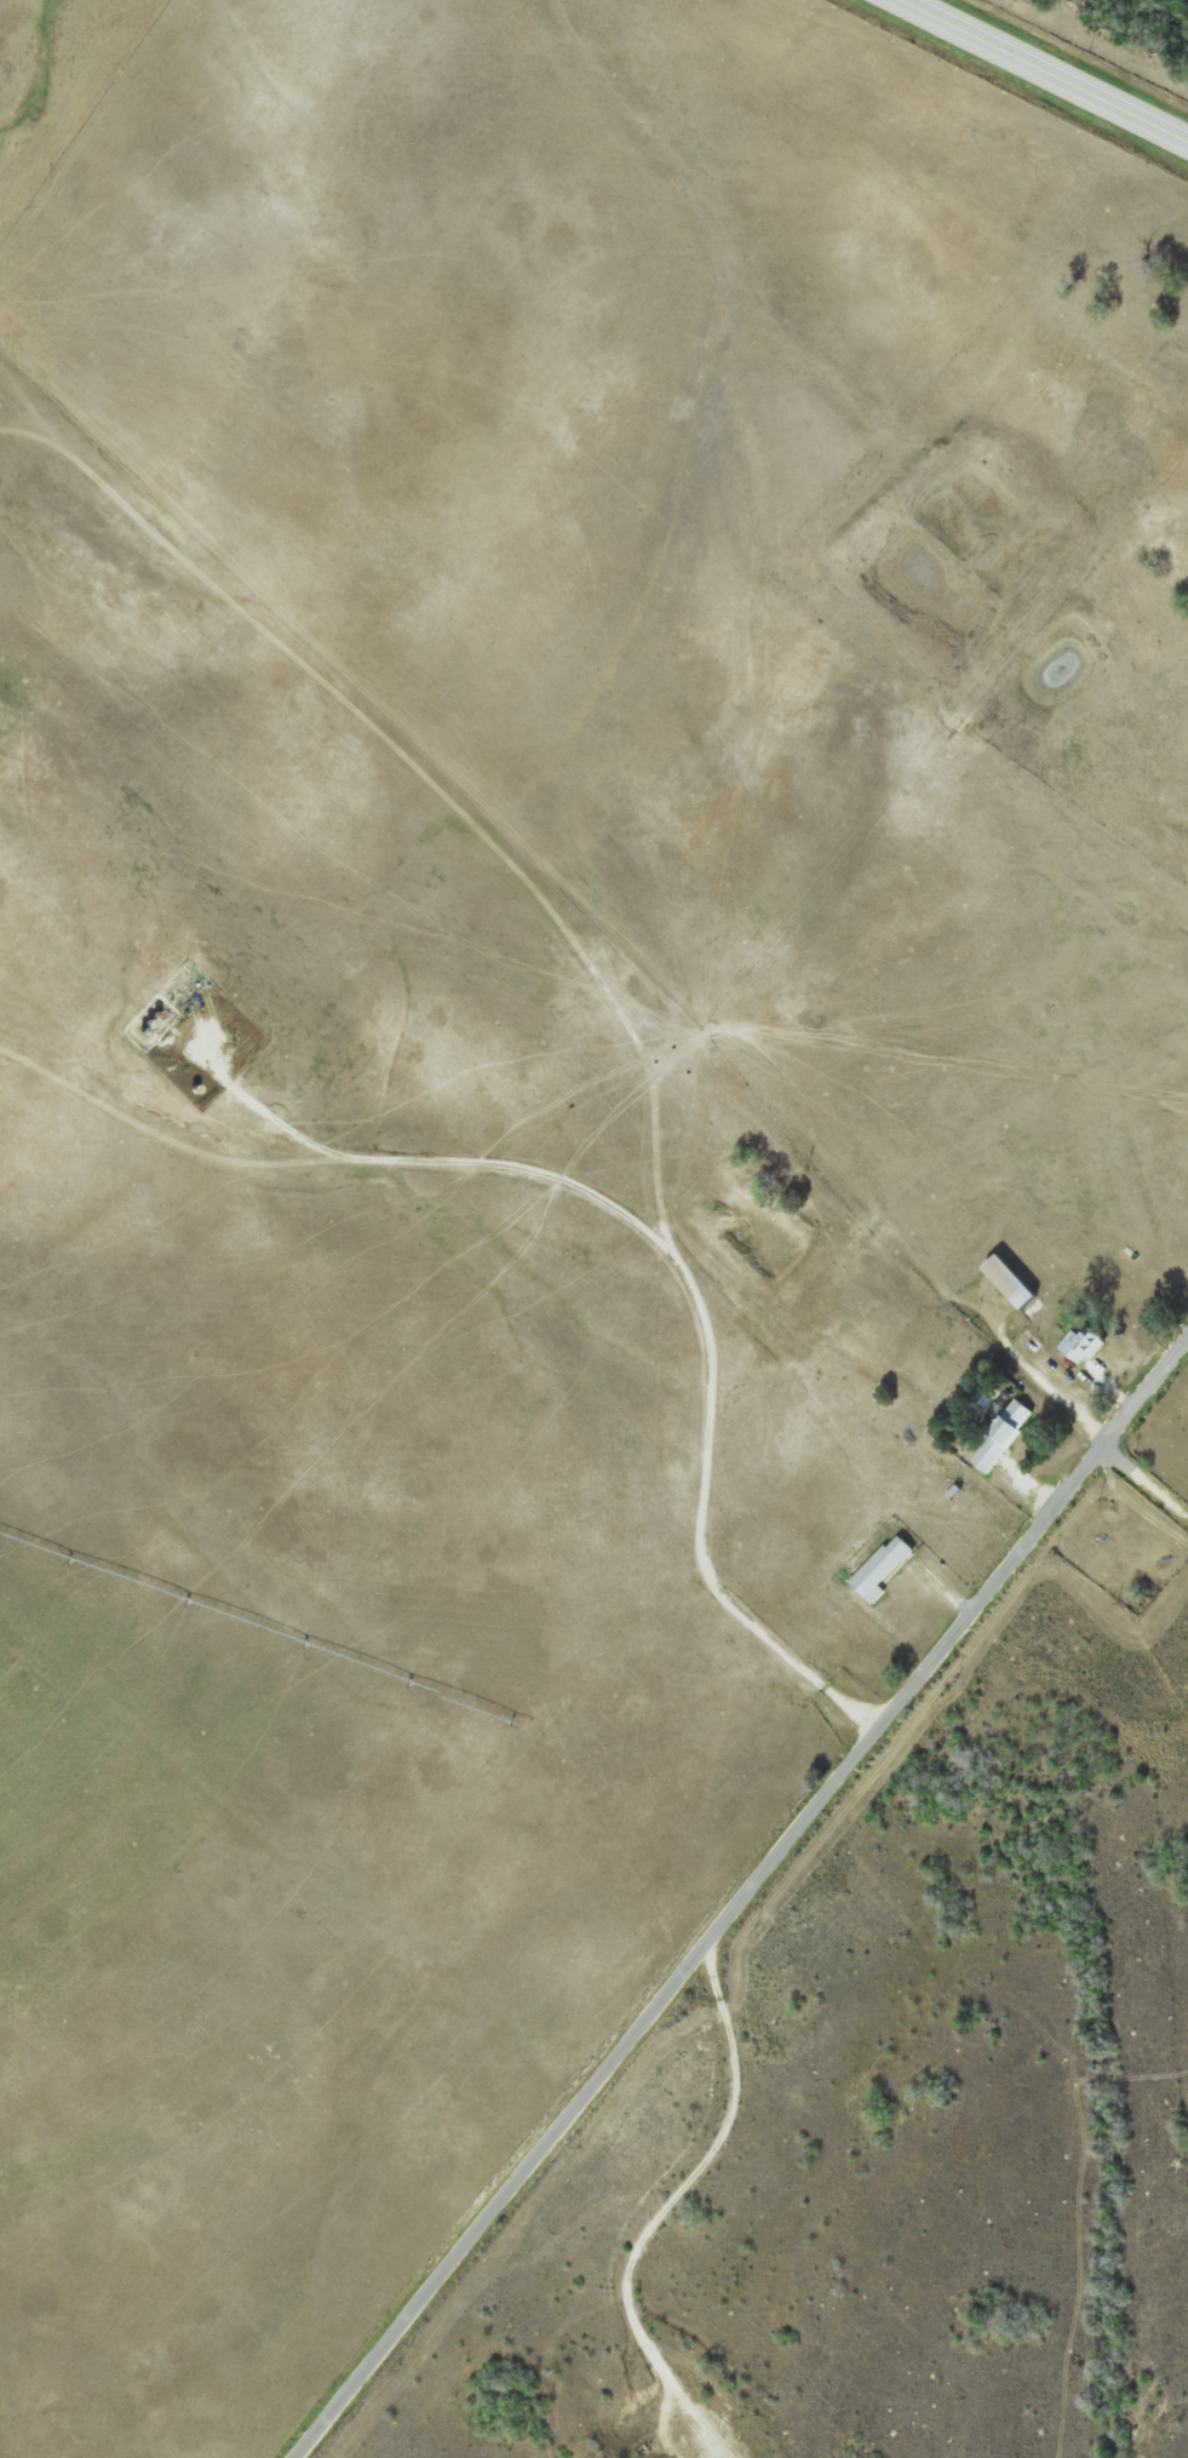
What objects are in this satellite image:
road: (1052, 68)
building: (1016, 1282)
building: (1083, 1345)
building: (1004, 1436)
road: (1147, 1477)
building: (885, 1568)
road: (745, 1901)

